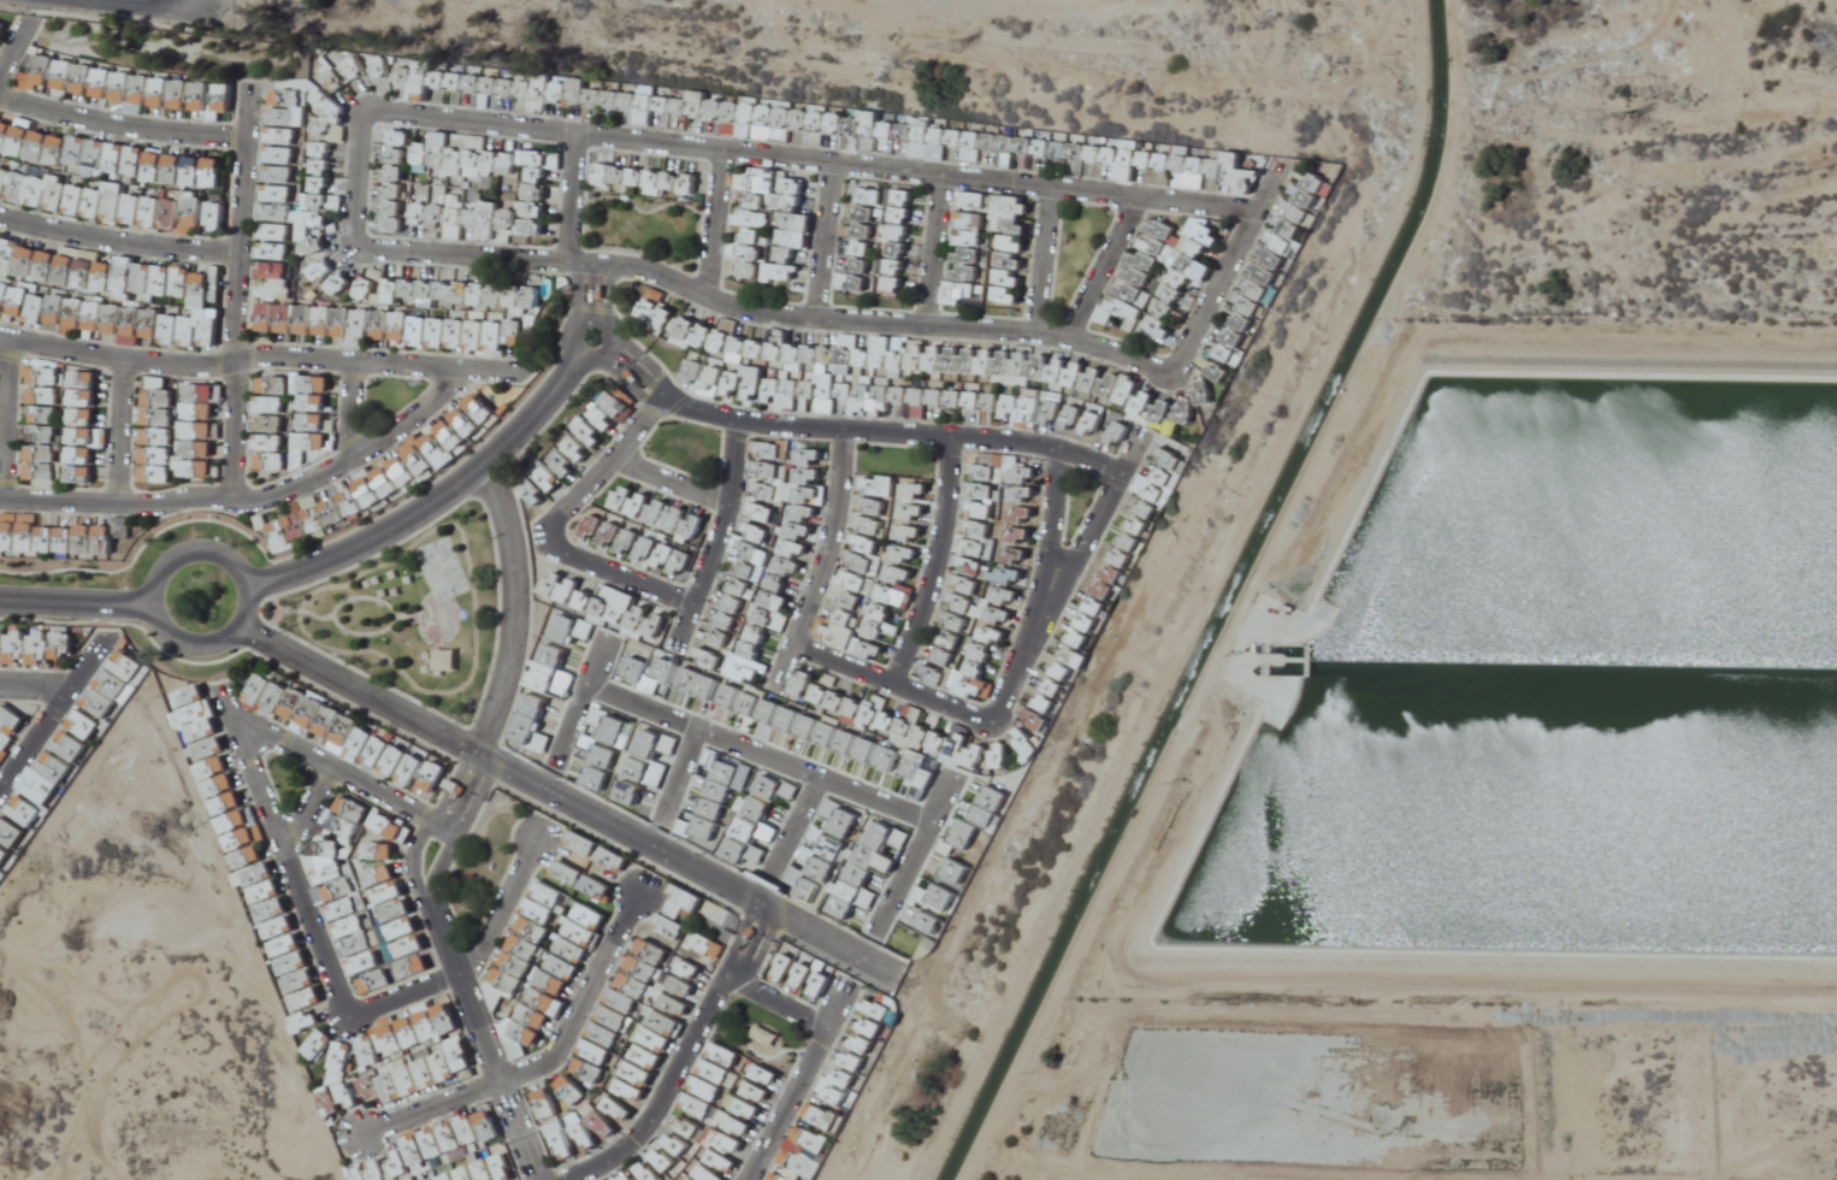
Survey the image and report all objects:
power tower: (968, 59)
power tower: (1636, 132)
park: (643, 223)
park: (1081, 248)
park: (687, 444)
park: (1080, 497)
park: (413, 607)

